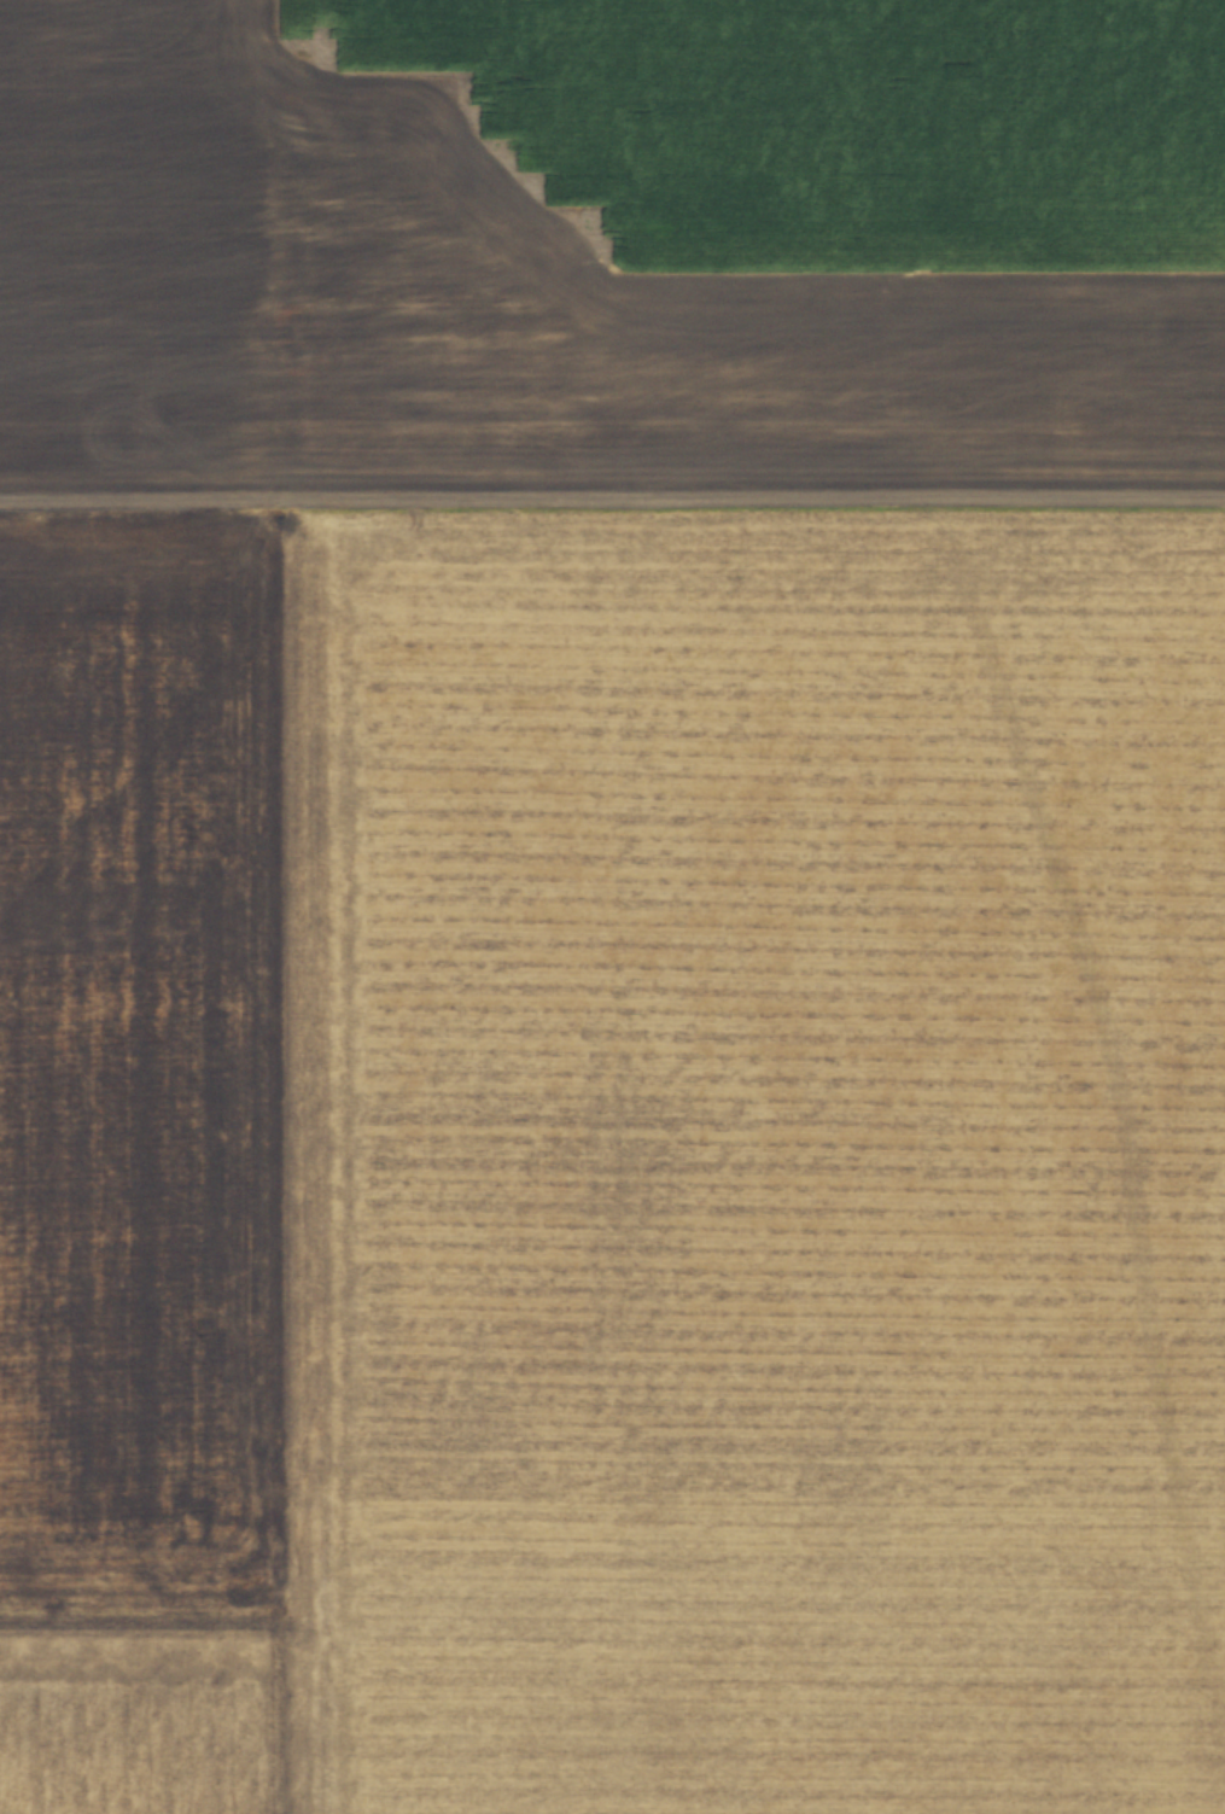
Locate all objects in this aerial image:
road: (612, 502)

